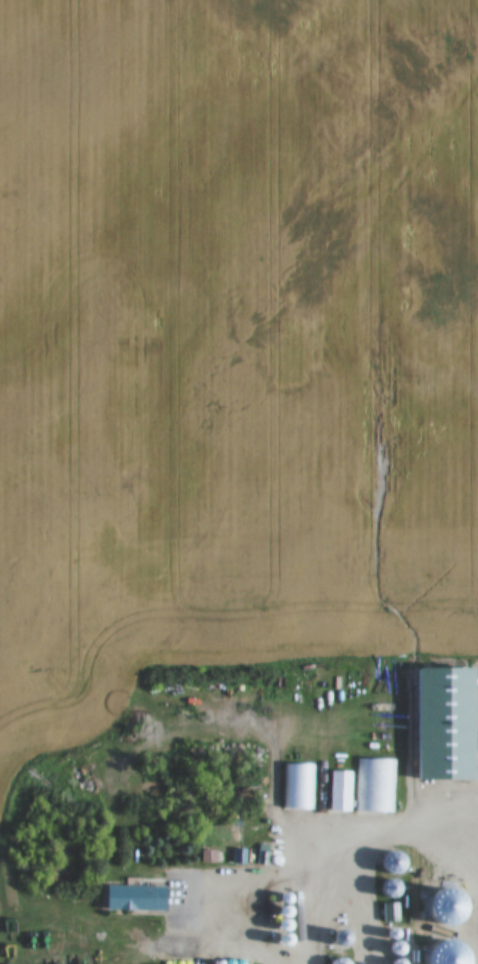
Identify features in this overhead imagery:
building: (448, 724)
building: (376, 785)
building: (299, 786)
building: (343, 792)
road: (288, 867)
building: (138, 898)
building: (453, 905)
building: (392, 912)
building: (340, 960)

